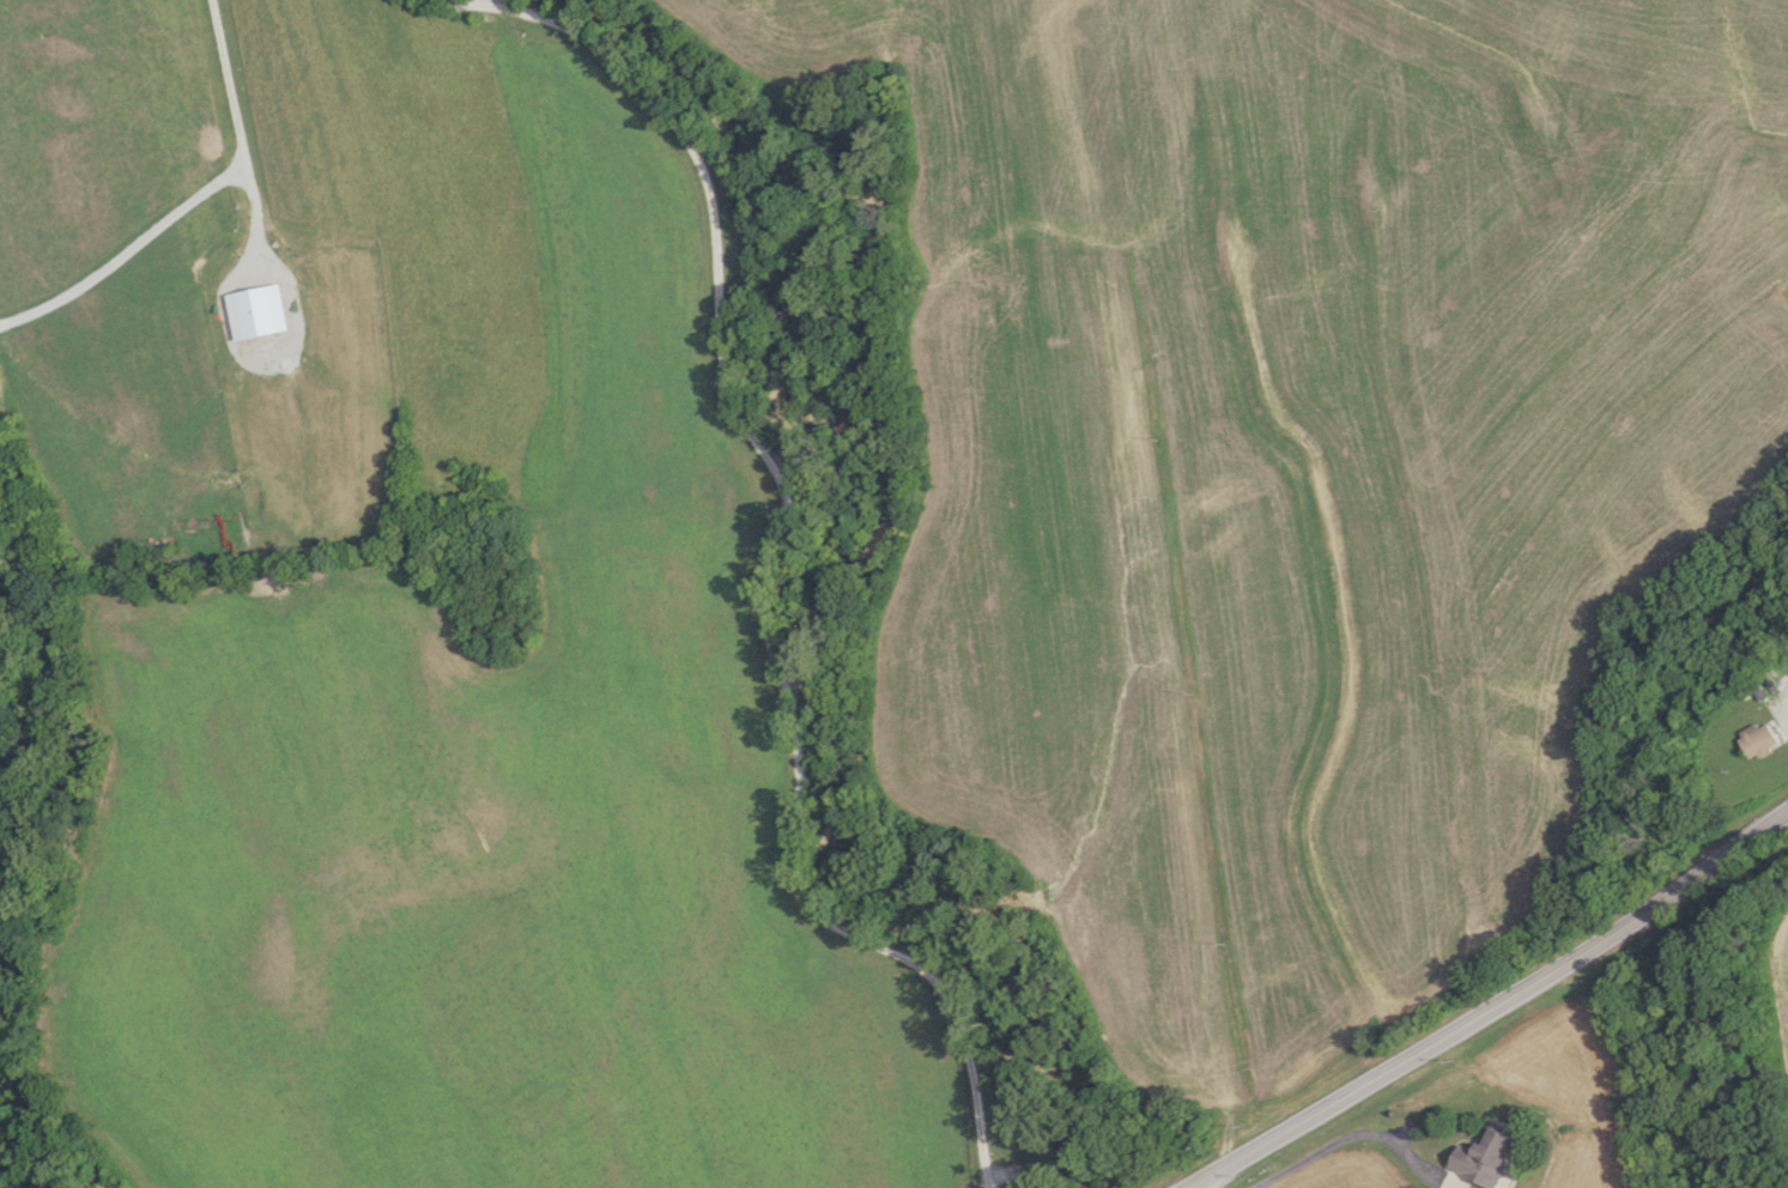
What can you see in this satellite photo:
road: (475, 1)
road: (190, 189)
road: (770, 574)
building: (1762, 739)
road: (1492, 1006)
road: (1356, 1133)
building: (1485, 1158)
road: (1194, 1186)

